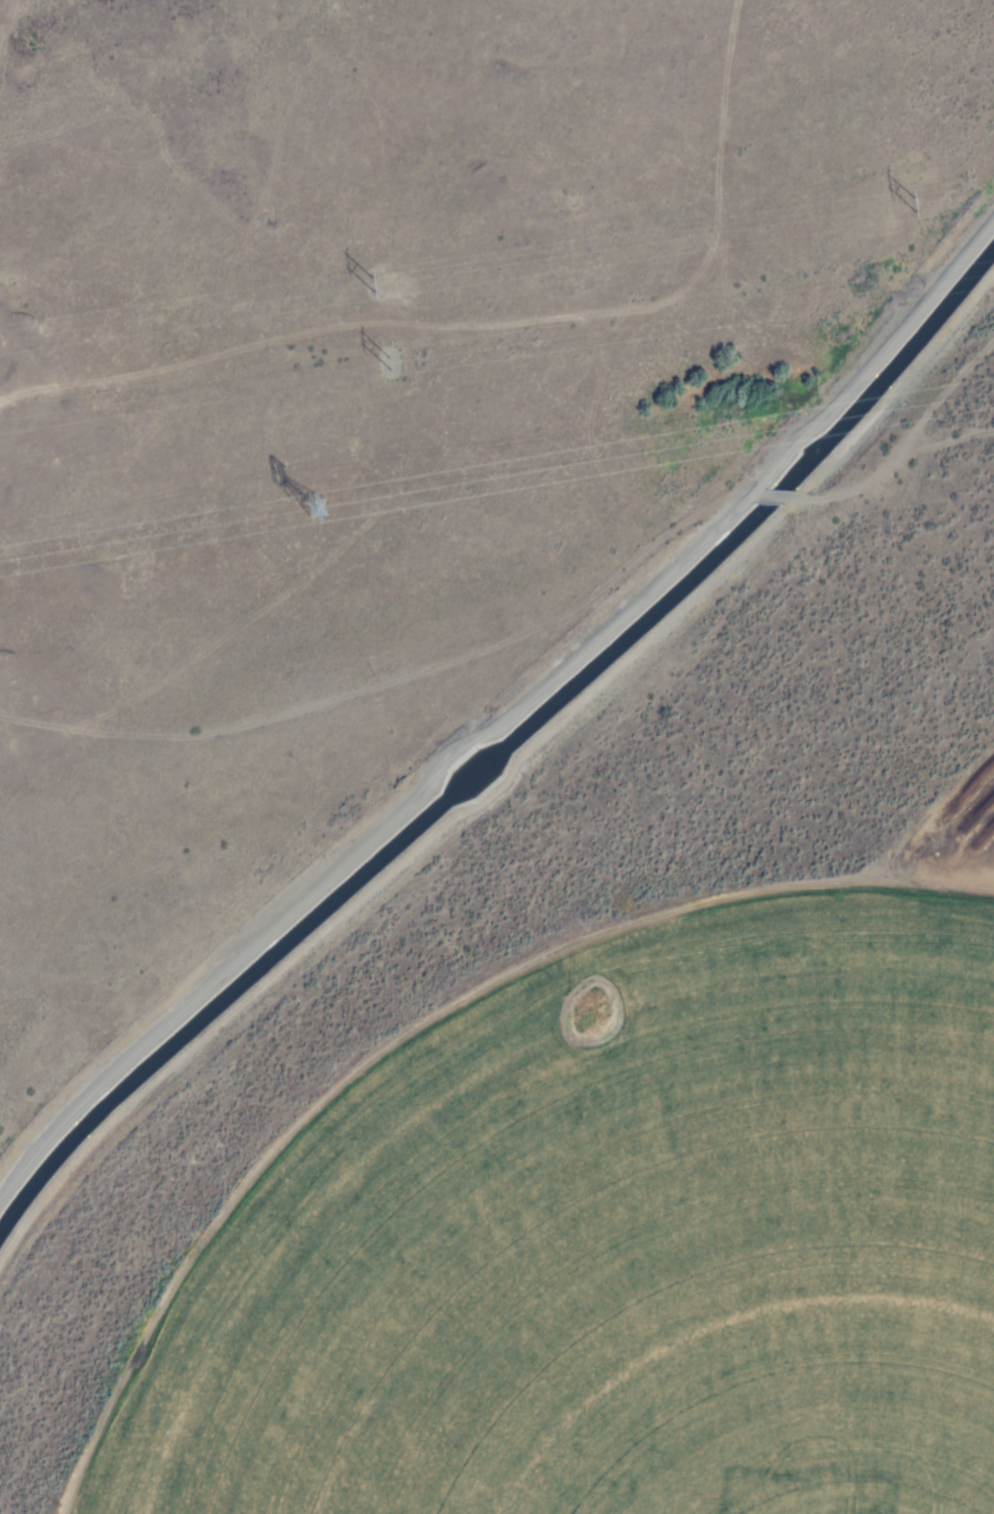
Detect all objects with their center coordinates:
power tower: (387, 363)
power tower: (325, 508)

